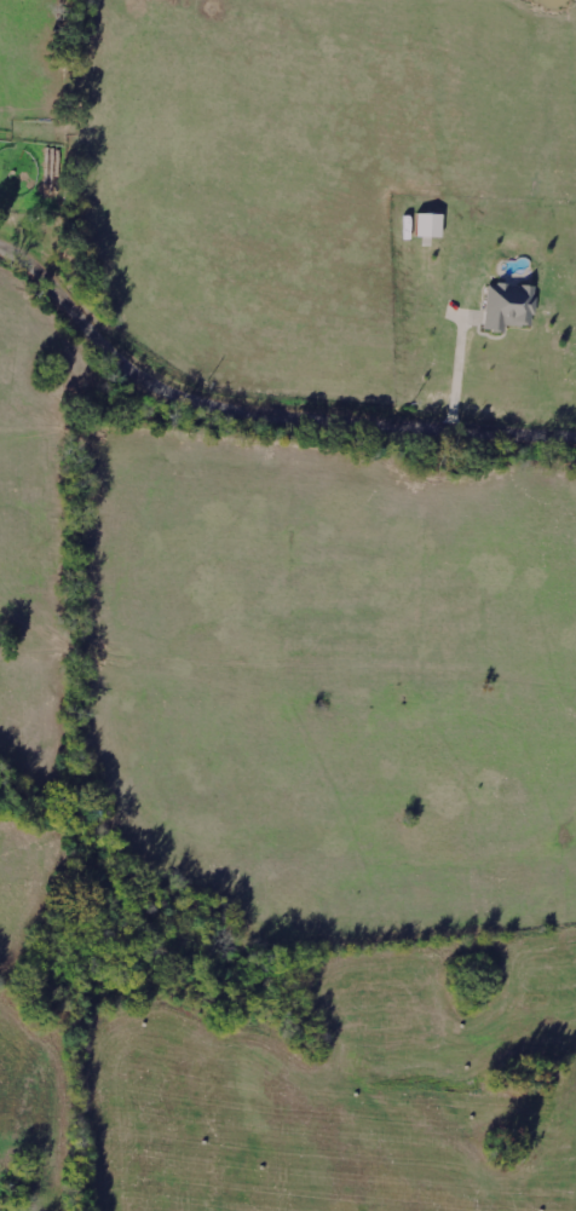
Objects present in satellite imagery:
building: (430, 225)
building: (508, 306)
road: (258, 416)

